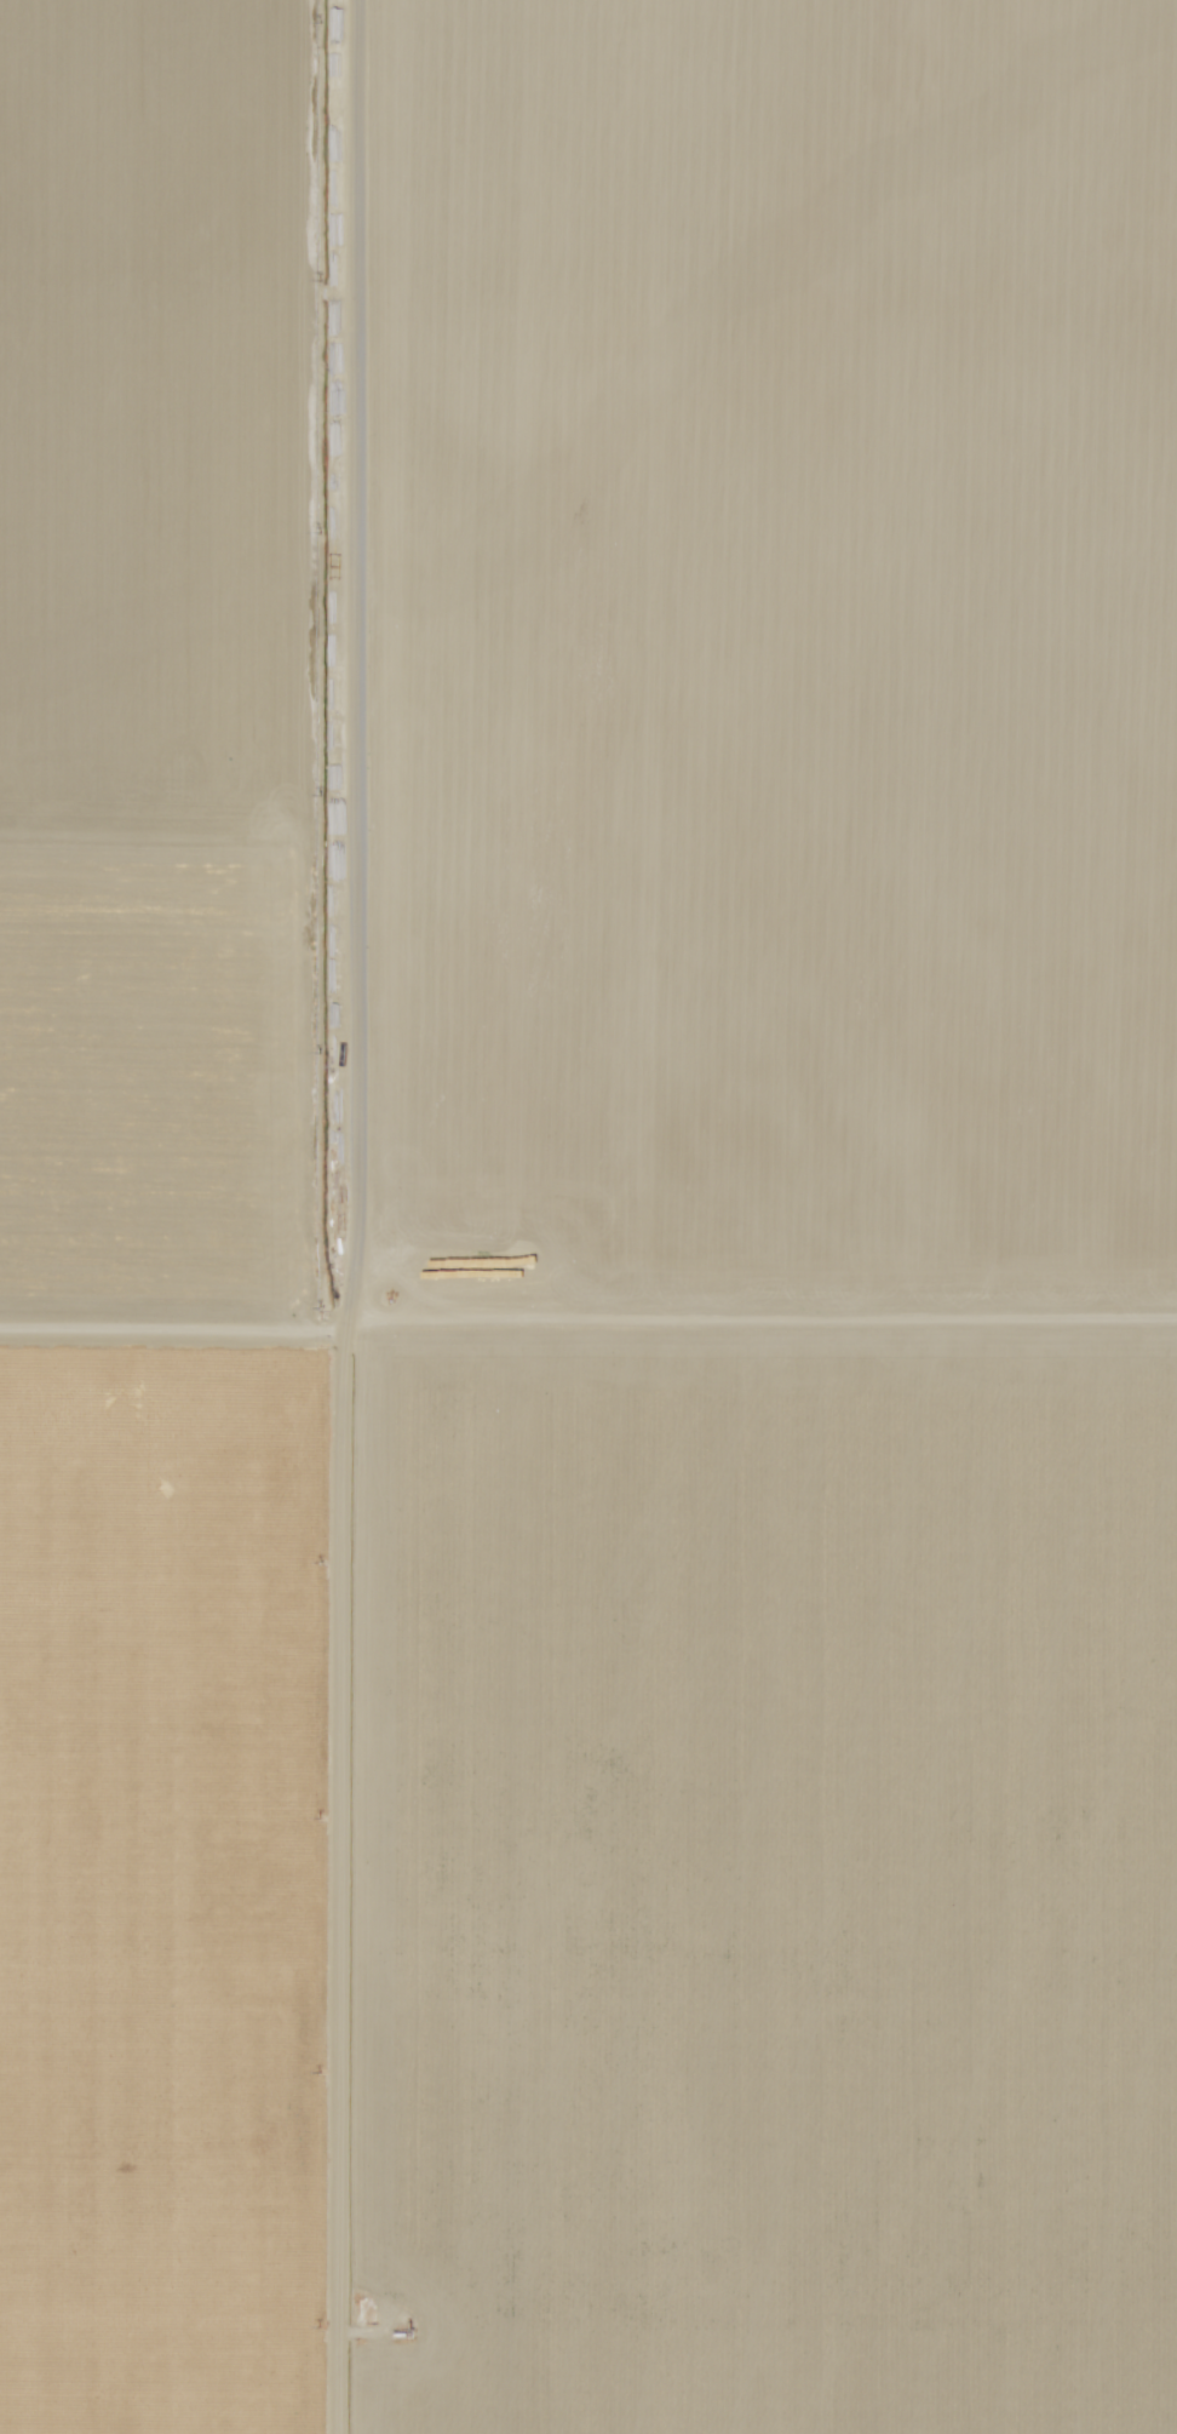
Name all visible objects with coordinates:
crop: (750, 660)
road: (345, 1216)
road: (588, 1316)
crop: (154, 1871)
crop: (742, 1875)

